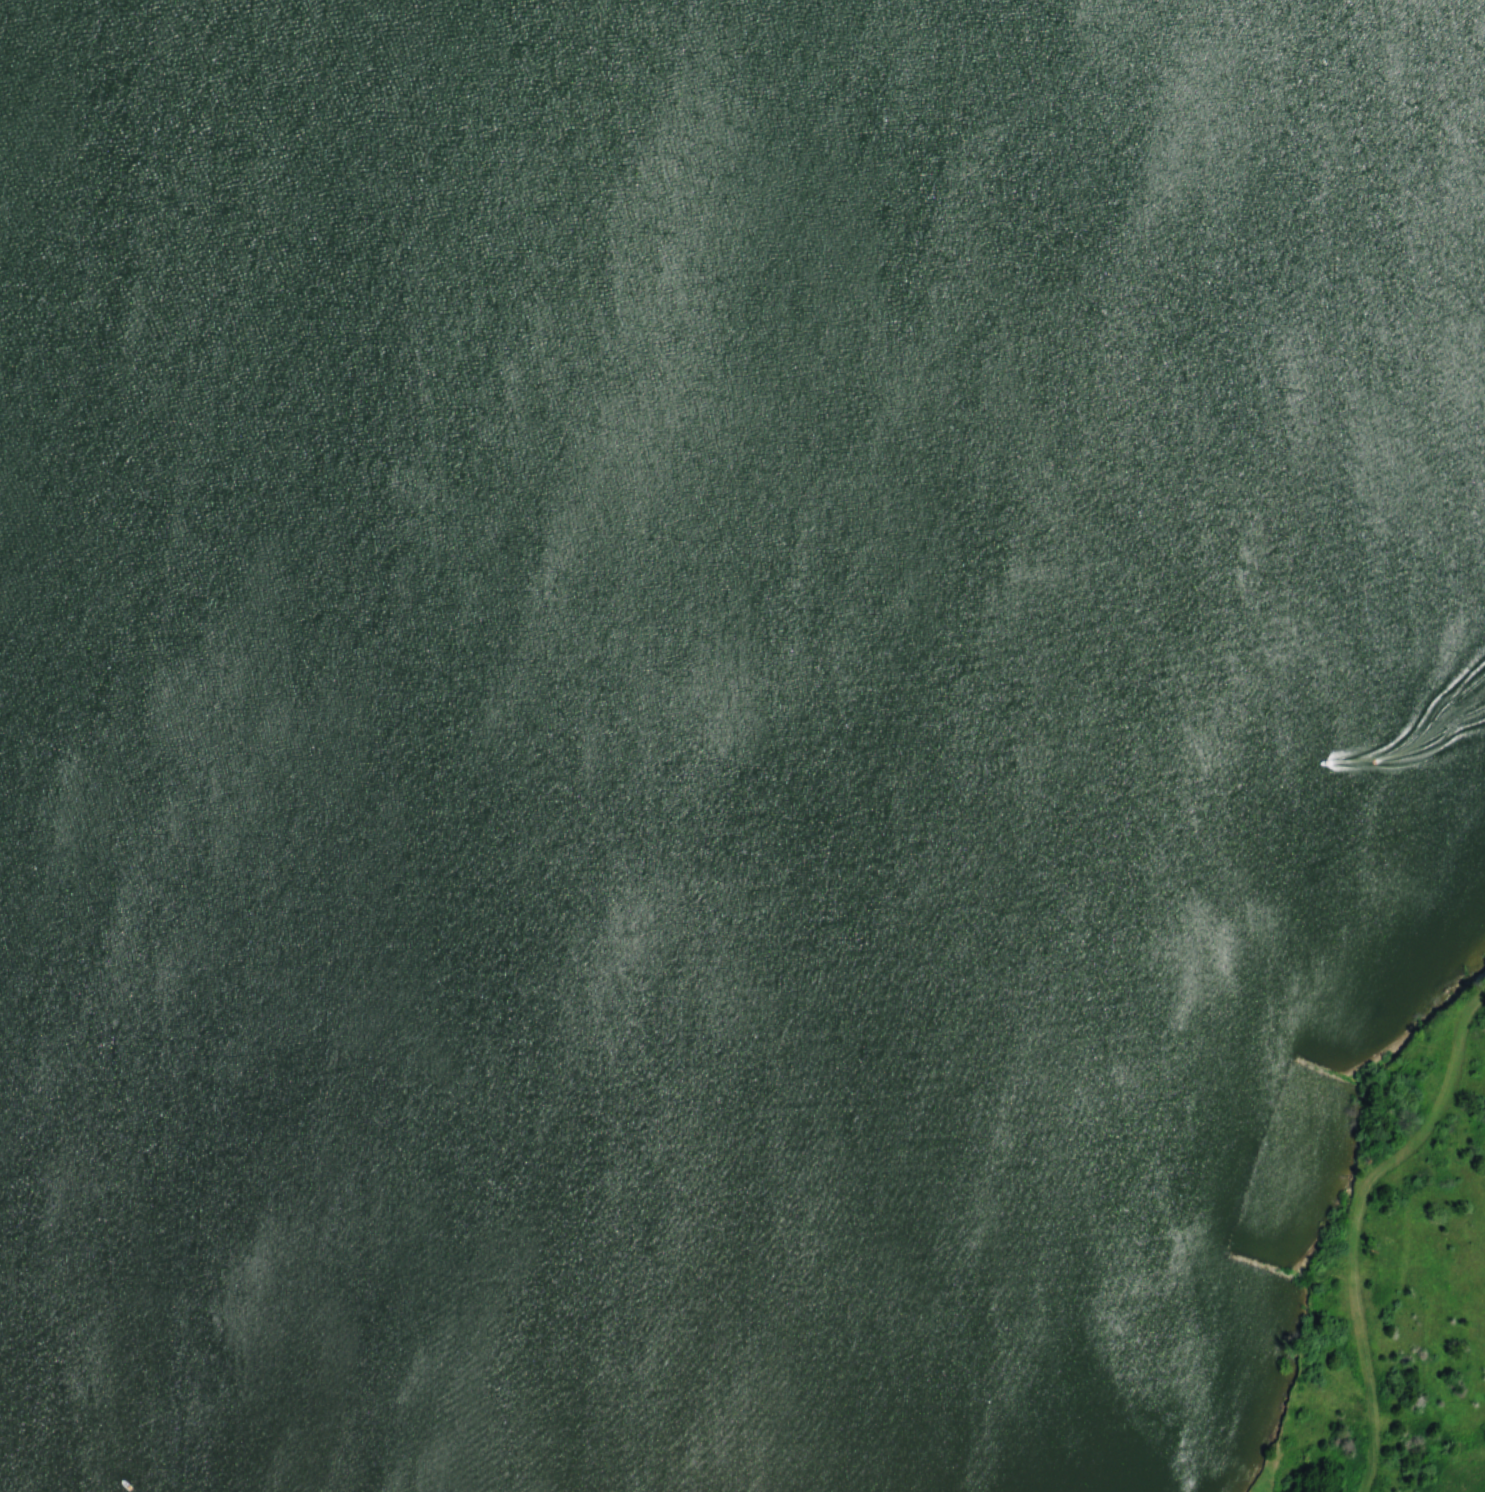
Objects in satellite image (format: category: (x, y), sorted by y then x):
river: (329, 296)
park: (742, 746)
road: (1358, 1221)

